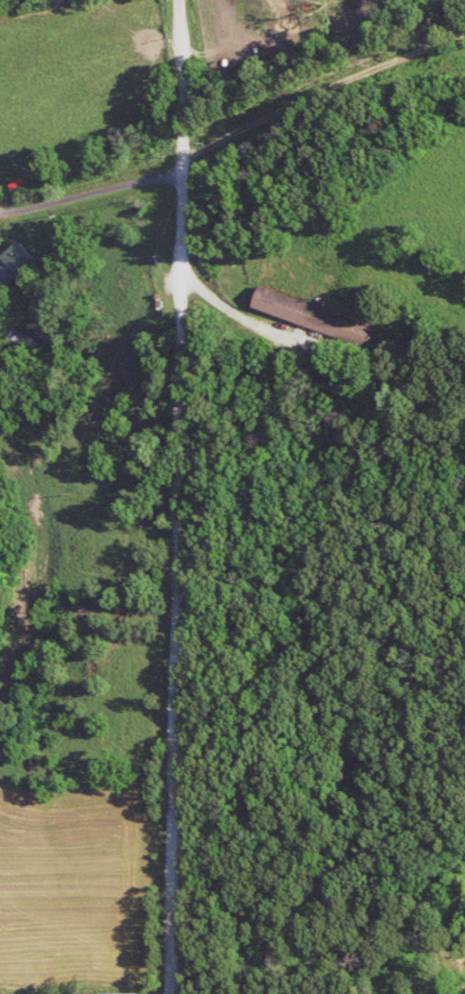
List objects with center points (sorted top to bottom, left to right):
road: (91, 202)
building: (17, 262)
road: (194, 495)

